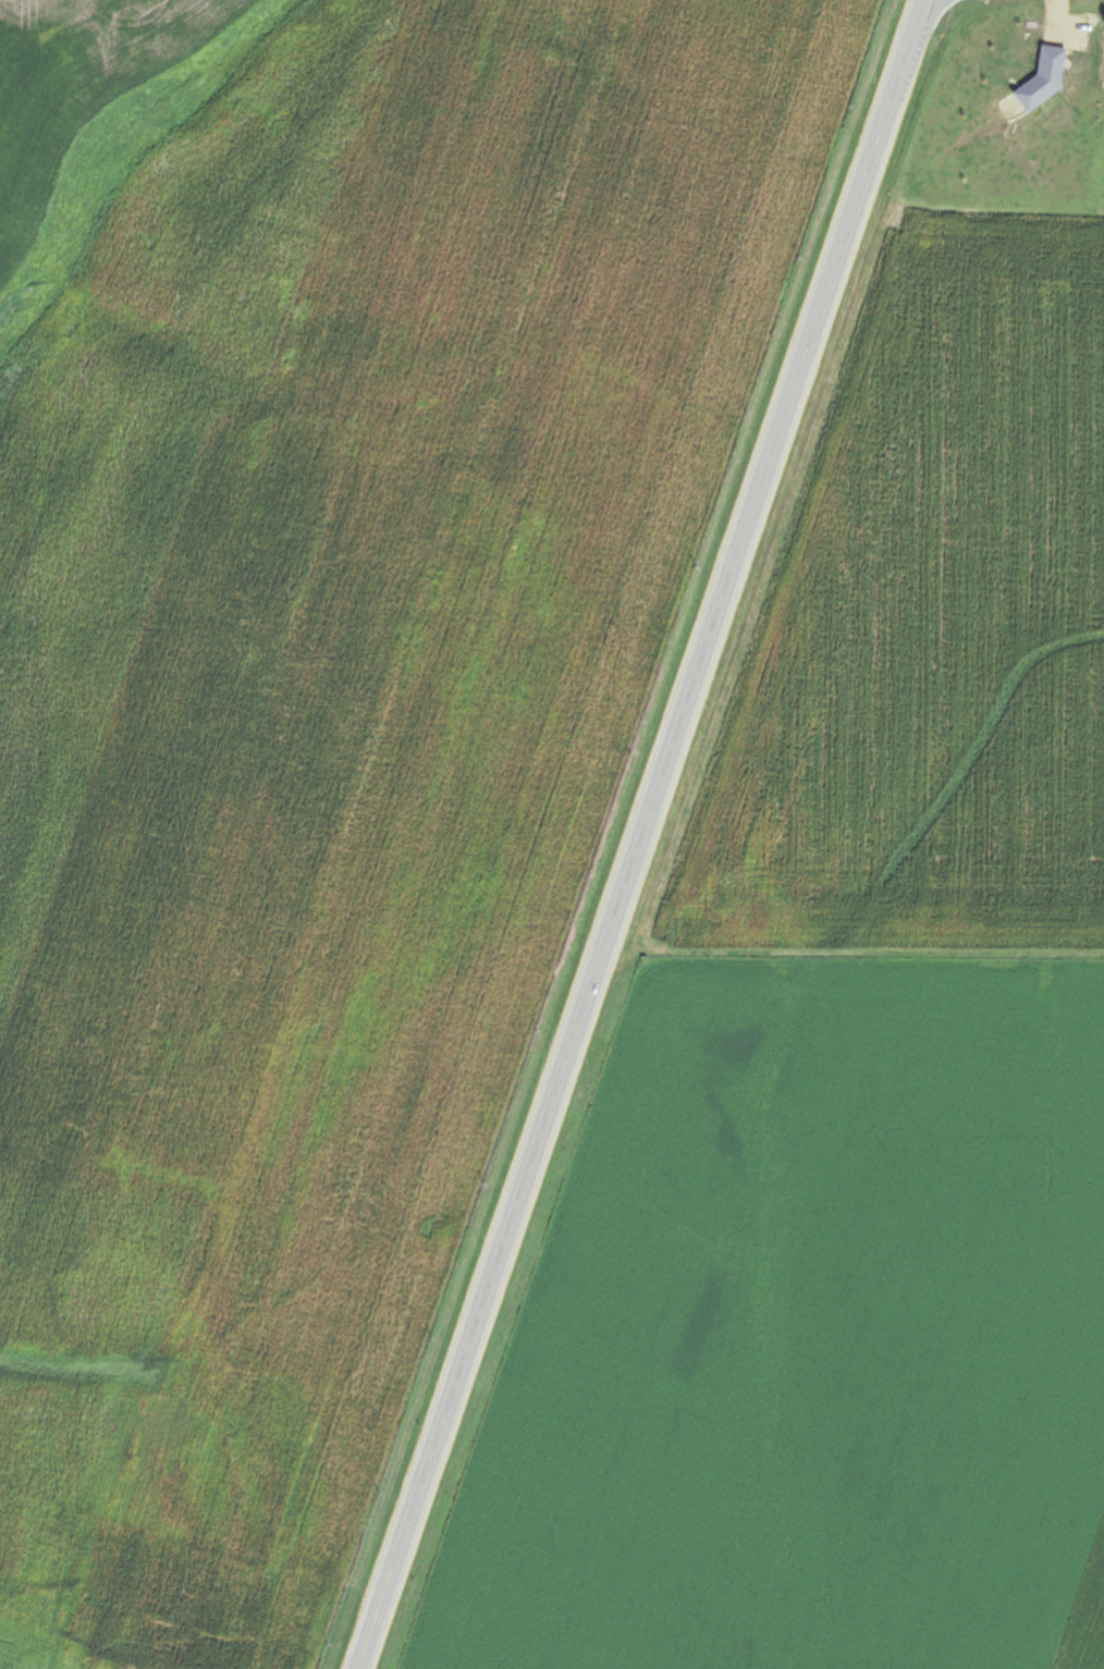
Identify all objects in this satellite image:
road: (643, 834)

